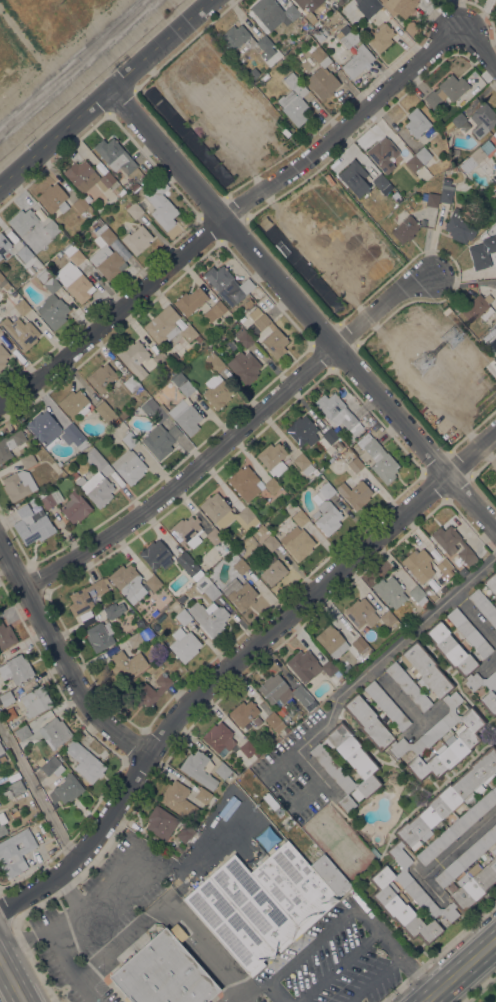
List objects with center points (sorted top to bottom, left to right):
building: (310, 3)
building: (373, 5)
building: (263, 7)
building: (404, 7)
building: (291, 12)
building: (234, 36)
building: (347, 36)
building: (380, 36)
building: (265, 44)
road: (478, 45)
building: (320, 56)
building: (358, 61)
road: (75, 66)
building: (322, 82)
building: (294, 84)
road: (105, 92)
building: (446, 92)
building: (294, 107)
building: (483, 119)
building: (455, 120)
building: (416, 122)
road: (213, 128)
building: (495, 144)
building: (383, 153)
building: (494, 153)
building: (423, 154)
building: (115, 155)
building: (477, 155)
building: (413, 163)
building: (465, 165)
building: (454, 170)
building: (88, 177)
building: (354, 177)
building: (382, 183)
building: (494, 185)
building: (135, 187)
building: (446, 191)
building: (53, 198)
building: (432, 199)
building: (161, 203)
building: (79, 204)
building: (134, 210)
building: (88, 211)
road: (226, 212)
building: (397, 217)
building: (24, 221)
building: (93, 221)
building: (459, 227)
building: (51, 228)
building: (405, 229)
building: (105, 233)
building: (137, 239)
building: (4, 247)
road: (306, 250)
building: (23, 253)
building: (74, 254)
building: (479, 256)
building: (106, 261)
building: (74, 281)
building: (227, 283)
building: (5, 285)
road: (378, 287)
building: (51, 301)
building: (190, 301)
building: (247, 302)
building: (21, 306)
building: (477, 307)
road: (302, 308)
building: (446, 310)
building: (214, 311)
road: (390, 314)
building: (163, 324)
building: (0, 330)
building: (20, 332)
building: (188, 332)
building: (276, 333)
power tower: (455, 336)
building: (243, 337)
building: (198, 338)
building: (2, 356)
building: (134, 356)
building: (159, 357)
power tower: (424, 362)
building: (244, 366)
building: (491, 367)
building: (101, 376)
building: (131, 383)
building: (216, 384)
road: (422, 389)
building: (74, 402)
building: (184, 406)
building: (153, 410)
building: (105, 412)
building: (339, 412)
building: (117, 421)
building: (44, 428)
road: (473, 428)
building: (303, 430)
road: (233, 434)
building: (73, 436)
building: (327, 438)
building: (129, 439)
building: (160, 440)
building: (10, 443)
road: (487, 454)
building: (273, 458)
building: (379, 458)
building: (27, 459)
building: (303, 463)
building: (355, 464)
building: (324, 465)
building: (129, 466)
building: (78, 478)
building: (97, 479)
building: (249, 483)
building: (18, 484)
building: (354, 491)
building: (51, 498)
building: (32, 501)
building: (75, 506)
building: (217, 510)
building: (327, 510)
building: (248, 516)
building: (299, 518)
building: (31, 525)
road: (472, 526)
building: (261, 529)
building: (187, 531)
building: (214, 535)
building: (297, 541)
building: (270, 542)
building: (454, 546)
building: (156, 554)
building: (418, 564)
building: (189, 565)
building: (272, 569)
building: (443, 571)
building: (491, 581)
building: (128, 582)
building: (152, 582)
building: (239, 586)
building: (211, 591)
building: (390, 591)
building: (431, 594)
building: (85, 596)
building: (419, 596)
building: (483, 605)
building: (111, 611)
building: (361, 613)
road: (475, 615)
building: (209, 616)
building: (182, 617)
building: (387, 618)
building: (141, 623)
building: (469, 631)
building: (100, 635)
building: (6, 636)
building: (135, 640)
building: (331, 640)
building: (184, 644)
building: (360, 645)
road: (61, 658)
road: (233, 660)
road: (489, 661)
road: (375, 662)
building: (127, 663)
building: (462, 663)
building: (308, 665)
building: (16, 669)
building: (408, 685)
building: (150, 691)
building: (284, 691)
building: (6, 698)
building: (35, 701)
road: (404, 702)
building: (386, 704)
building: (357, 708)
building: (243, 712)
building: (9, 713)
building: (274, 722)
road: (415, 727)
building: (54, 732)
building: (21, 733)
building: (219, 737)
building: (247, 749)
building: (1, 750)
building: (2, 758)
building: (358, 759)
building: (84, 761)
building: (50, 765)
building: (199, 768)
building: (222, 770)
road: (322, 779)
road: (38, 788)
building: (14, 789)
building: (65, 790)
building: (203, 795)
building: (178, 799)
building: (270, 800)
building: (161, 822)
building: (2, 824)
building: (458, 826)
building: (185, 832)
building: (405, 841)
road: (458, 841)
building: (15, 851)
building: (172, 854)
building: (467, 856)
building: (330, 875)
road: (72, 896)
building: (260, 904)
road: (94, 909)
road: (168, 919)
building: (177, 932)
road: (187, 935)
road: (126, 938)
road: (208, 944)
road: (314, 945)
road: (12, 946)
road: (396, 949)
road: (439, 952)
road: (195, 955)
road: (208, 964)
road: (339, 966)
road: (460, 970)
road: (72, 971)
building: (163, 973)
railway: (464, 974)
road: (12, 978)
road: (376, 979)
road: (259, 988)
road: (277, 993)
road: (238, 994)
building: (125, 999)
road: (238, 999)
building: (206, 1001)

